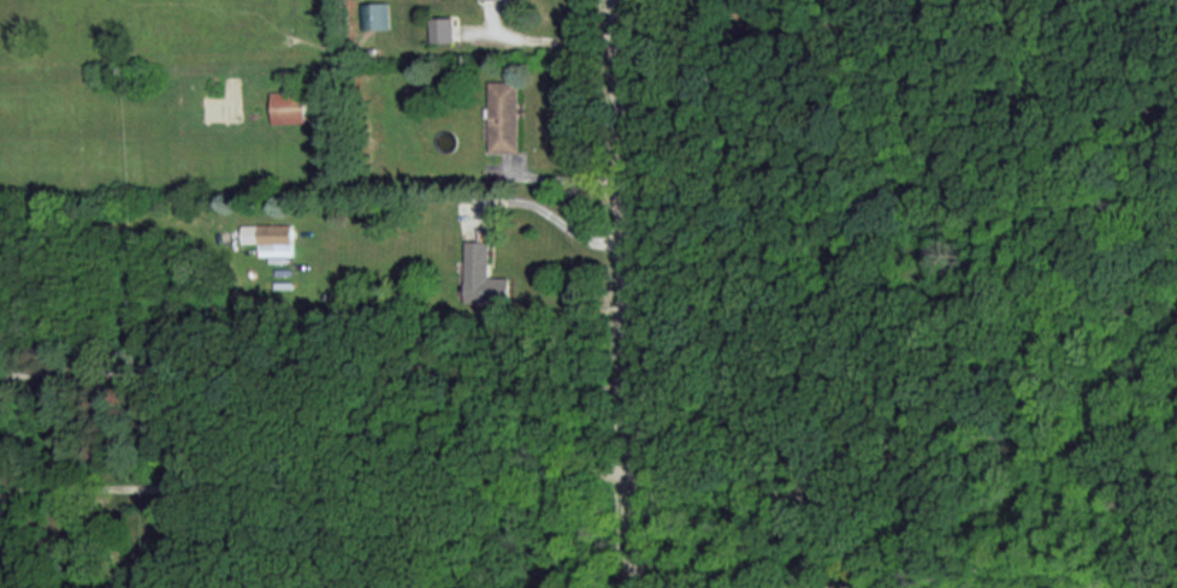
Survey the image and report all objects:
road: (715, 8)
building: (377, 14)
building: (443, 28)
road: (557, 41)
building: (289, 106)
building: (504, 114)
road: (557, 172)
road: (561, 218)
building: (270, 237)
building: (483, 275)
park: (910, 285)
road: (628, 293)
road: (317, 411)
road: (321, 498)

